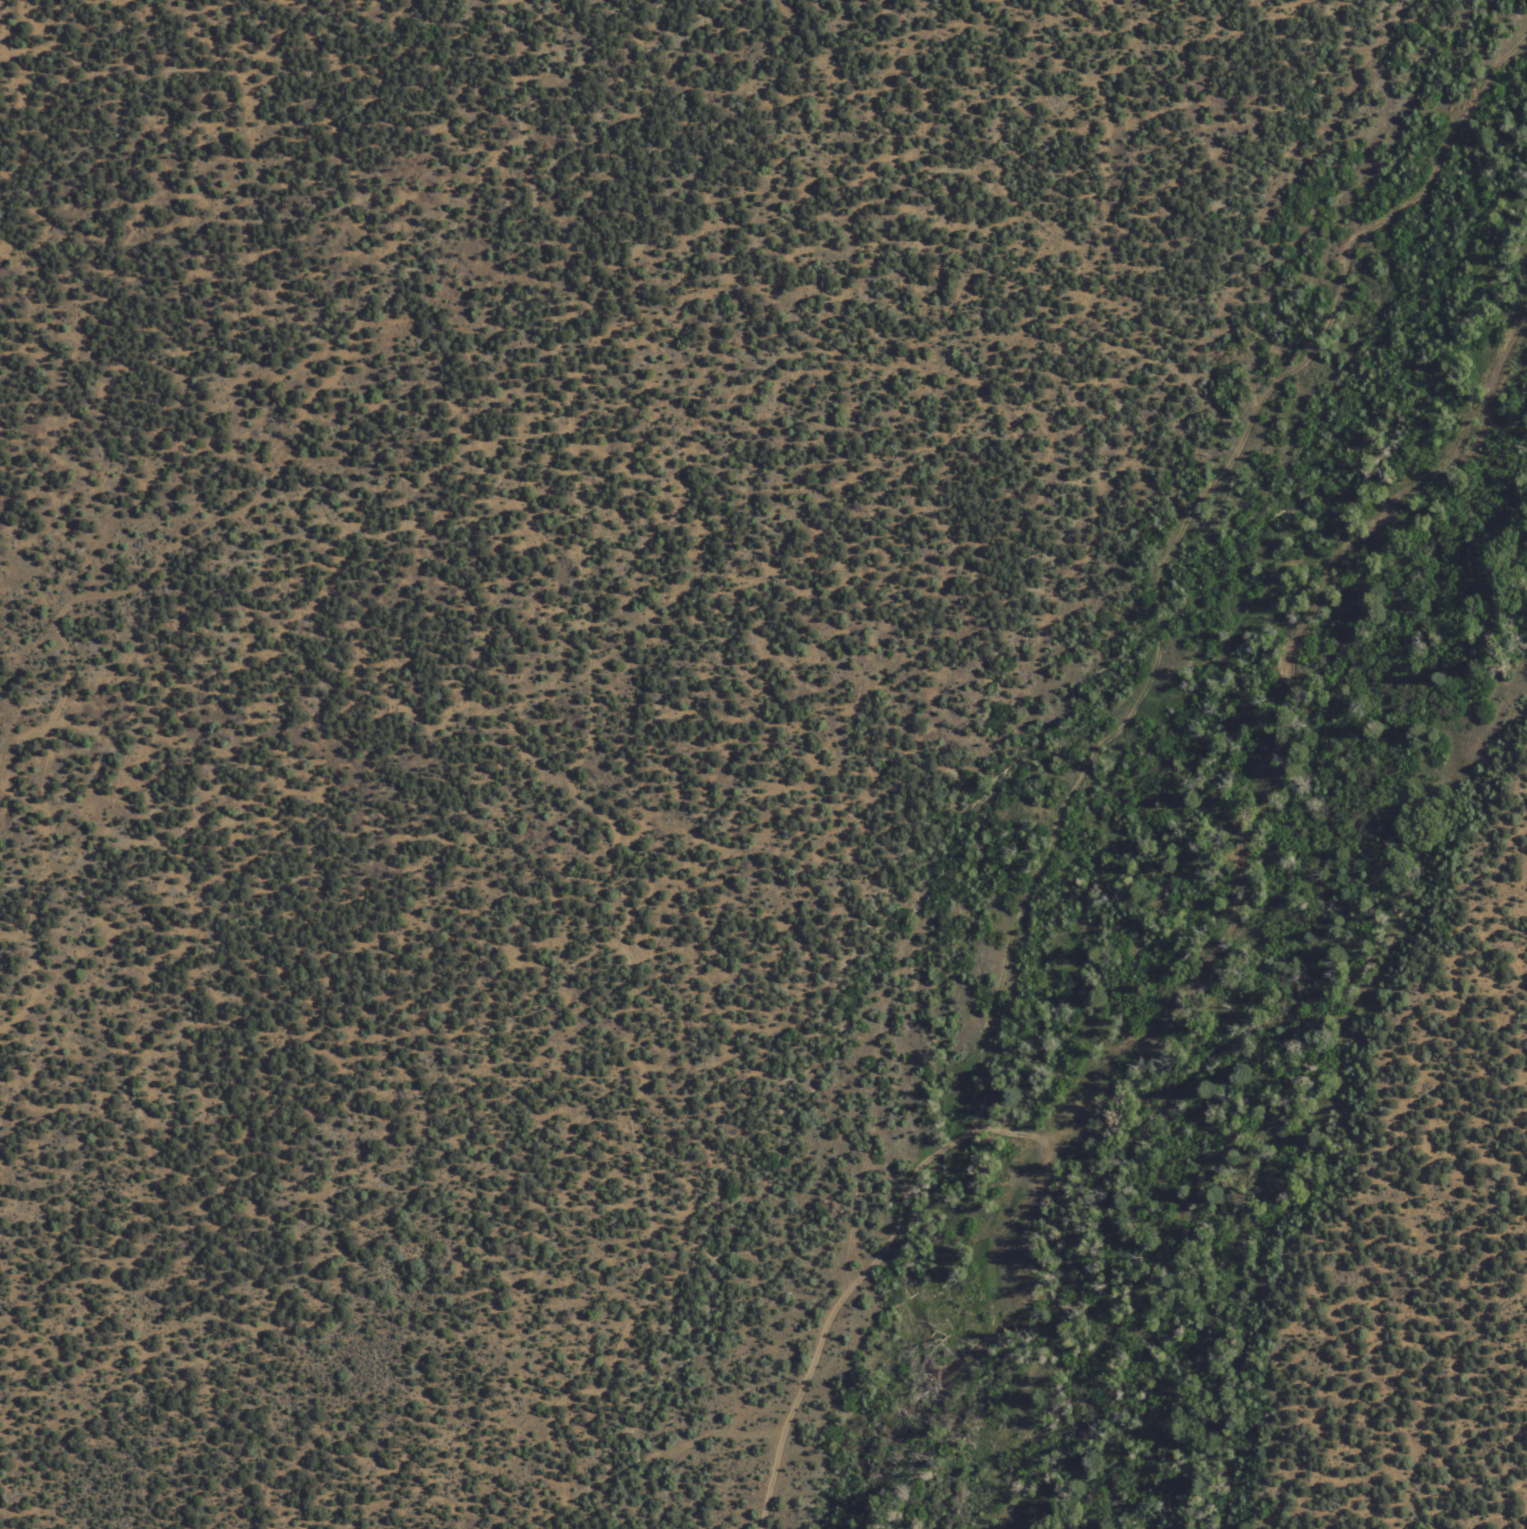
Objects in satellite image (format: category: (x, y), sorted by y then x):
road: (935, 717)

